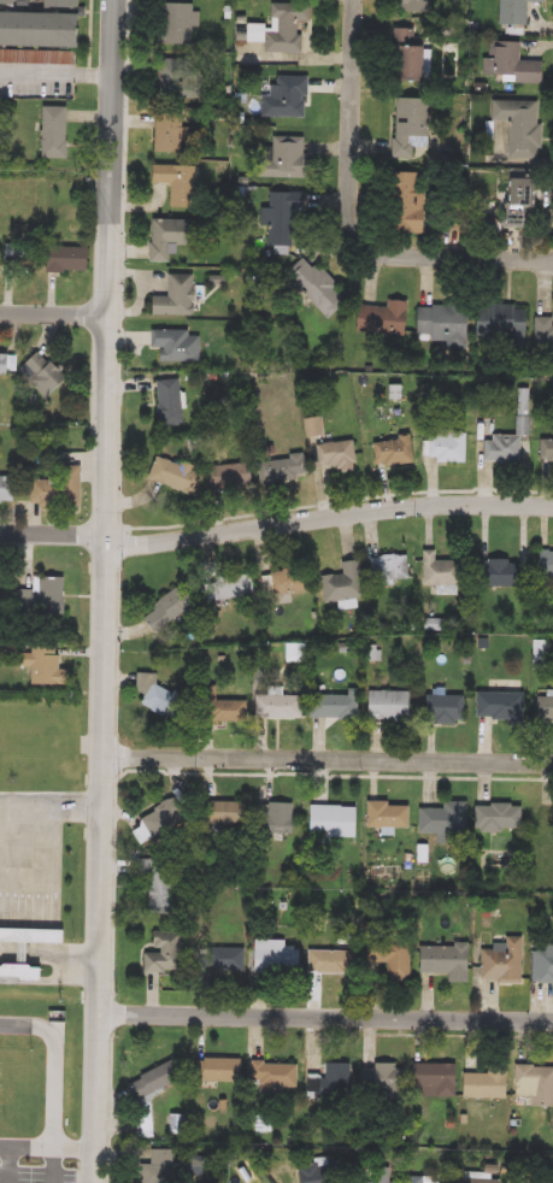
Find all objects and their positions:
building: (11, 2)
building: (71, 4)
building: (418, 6)
building: (518, 12)
building: (180, 24)
building: (290, 27)
building: (43, 30)
road: (93, 30)
building: (414, 57)
building: (513, 64)
road: (57, 73)
building: (177, 78)
building: (289, 98)
building: (416, 125)
building: (524, 125)
building: (176, 131)
building: (58, 134)
building: (293, 157)
building: (180, 182)
building: (525, 204)
building: (413, 205)
building: (287, 217)
road: (348, 222)
building: (173, 237)
building: (22, 252)
building: (75, 260)
building: (320, 288)
building: (182, 296)
road: (54, 310)
building: (388, 319)
building: (446, 324)
building: (504, 326)
building: (543, 337)
building: (182, 346)
building: (7, 366)
building: (47, 375)
building: (173, 402)
building: (316, 425)
building: (446, 448)
building: (501, 449)
building: (547, 449)
building: (393, 451)
building: (335, 455)
building: (283, 467)
building: (181, 476)
road: (120, 477)
building: (234, 477)
building: (8, 490)
building: (59, 492)
road: (276, 520)
road: (122, 541)
building: (545, 564)
building: (390, 567)
building: (440, 571)
building: (494, 573)
building: (288, 582)
building: (343, 583)
building: (233, 587)
road: (112, 591)
building: (49, 598)
building: (166, 610)
road: (118, 646)
building: (52, 670)
building: (154, 695)
building: (277, 705)
building: (387, 705)
building: (498, 705)
building: (220, 706)
building: (334, 706)
building: (445, 708)
building: (543, 711)
road: (117, 753)
road: (330, 755)
road: (223, 769)
road: (53, 806)
building: (222, 812)
building: (387, 814)
building: (496, 816)
building: (546, 817)
building: (160, 818)
building: (275, 818)
building: (443, 818)
building: (331, 820)
building: (160, 890)
road: (14, 918)
building: (31, 940)
building: (163, 953)
building: (273, 957)
building: (220, 960)
building: (443, 960)
building: (387, 961)
building: (501, 961)
building: (330, 963)
building: (542, 963)
building: (19, 975)
road: (51, 982)
road: (114, 1010)
road: (325, 1012)
road: (18, 1028)
road: (464, 1034)
building: (219, 1070)
building: (272, 1077)
building: (381, 1078)
building: (431, 1079)
building: (331, 1082)
road: (59, 1084)
building: (534, 1084)
building: (482, 1085)
building: (149, 1096)
road: (113, 1103)
road: (47, 1148)
road: (8, 1165)
road: (57, 1166)
building: (172, 1167)
building: (308, 1173)
parking lot: (39, 1176)
building: (383, 1176)
building: (476, 1178)
building: (412, 1179)

